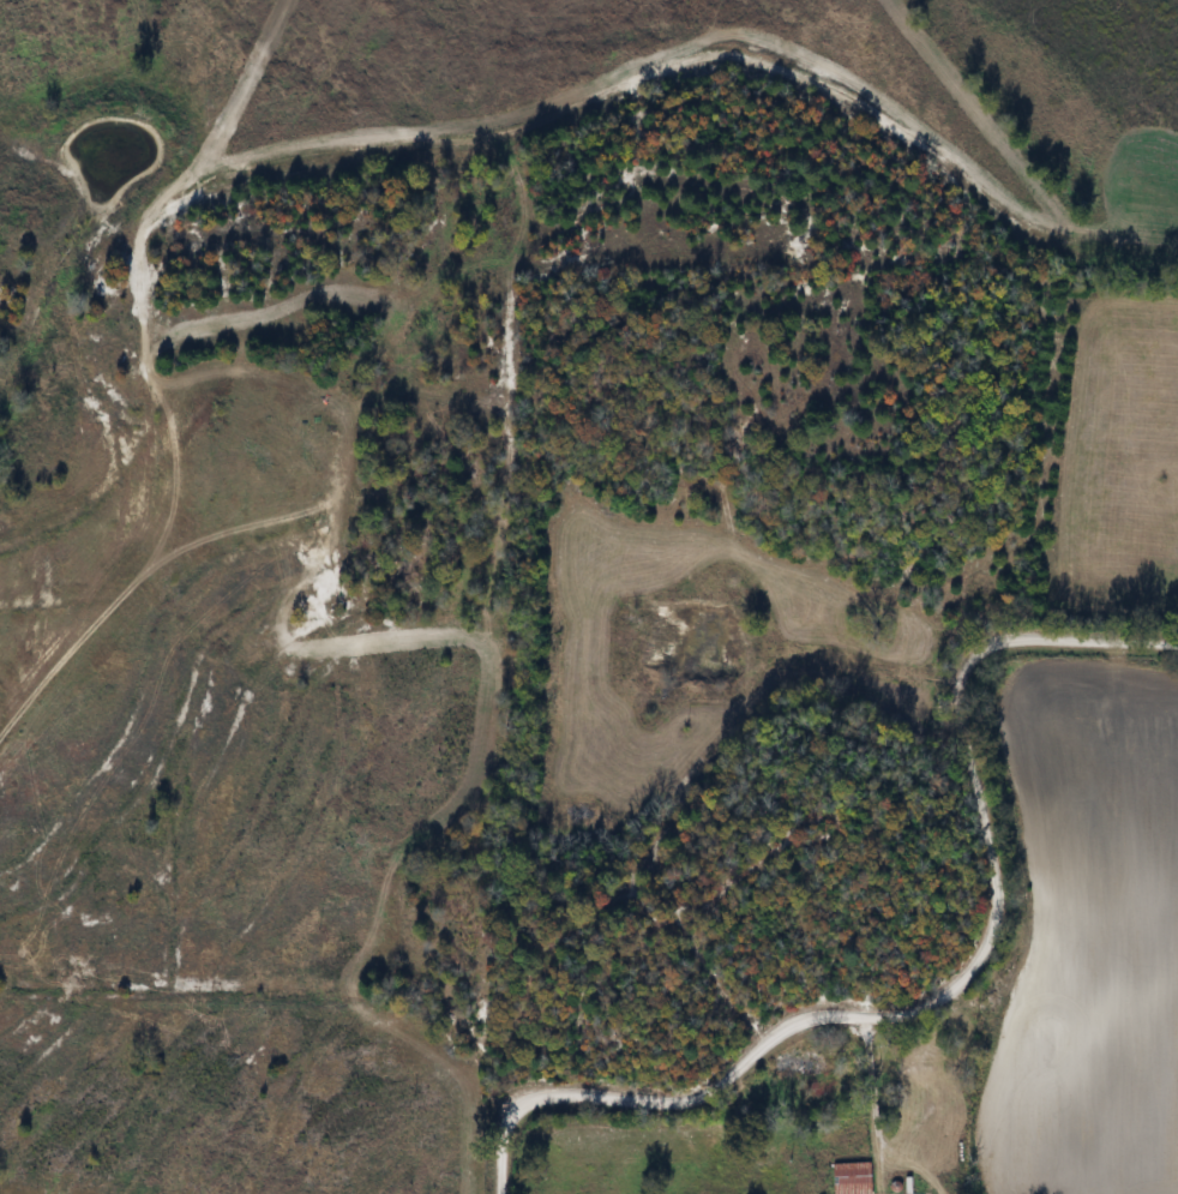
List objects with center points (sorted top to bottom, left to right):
road: (954, 991)
building: (800, 1069)
building: (855, 1178)

